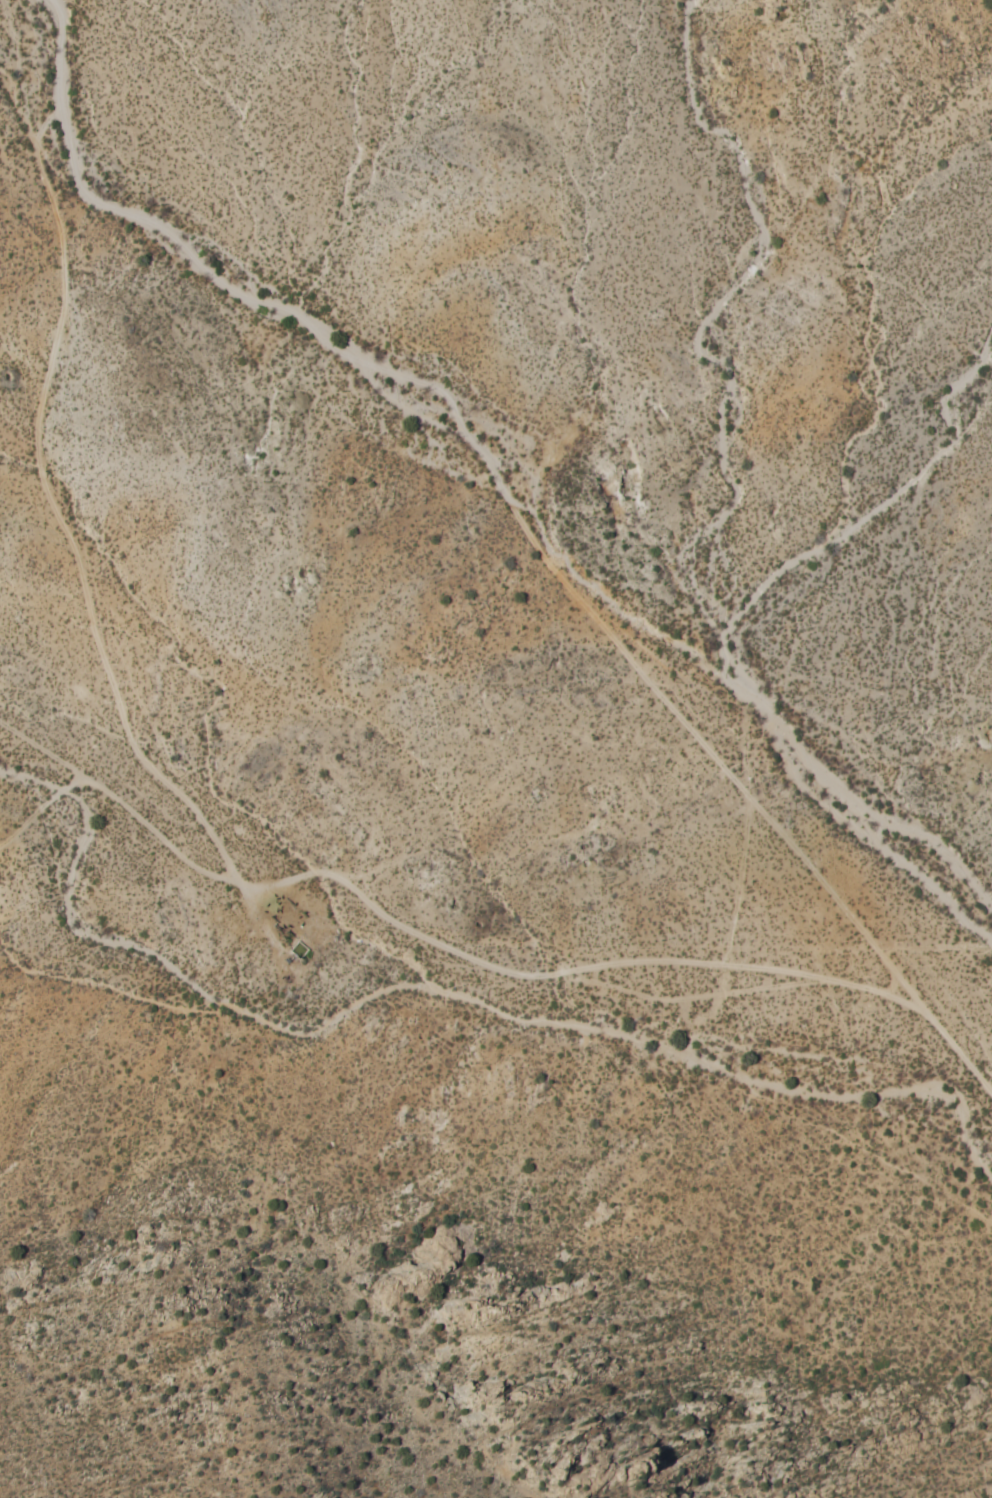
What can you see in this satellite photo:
road: (493, 462)
road: (72, 546)
road: (746, 753)
road: (120, 801)
road: (41, 808)
building: (290, 917)
road: (571, 969)
road: (690, 996)
road: (959, 1051)
road: (889, 1111)

